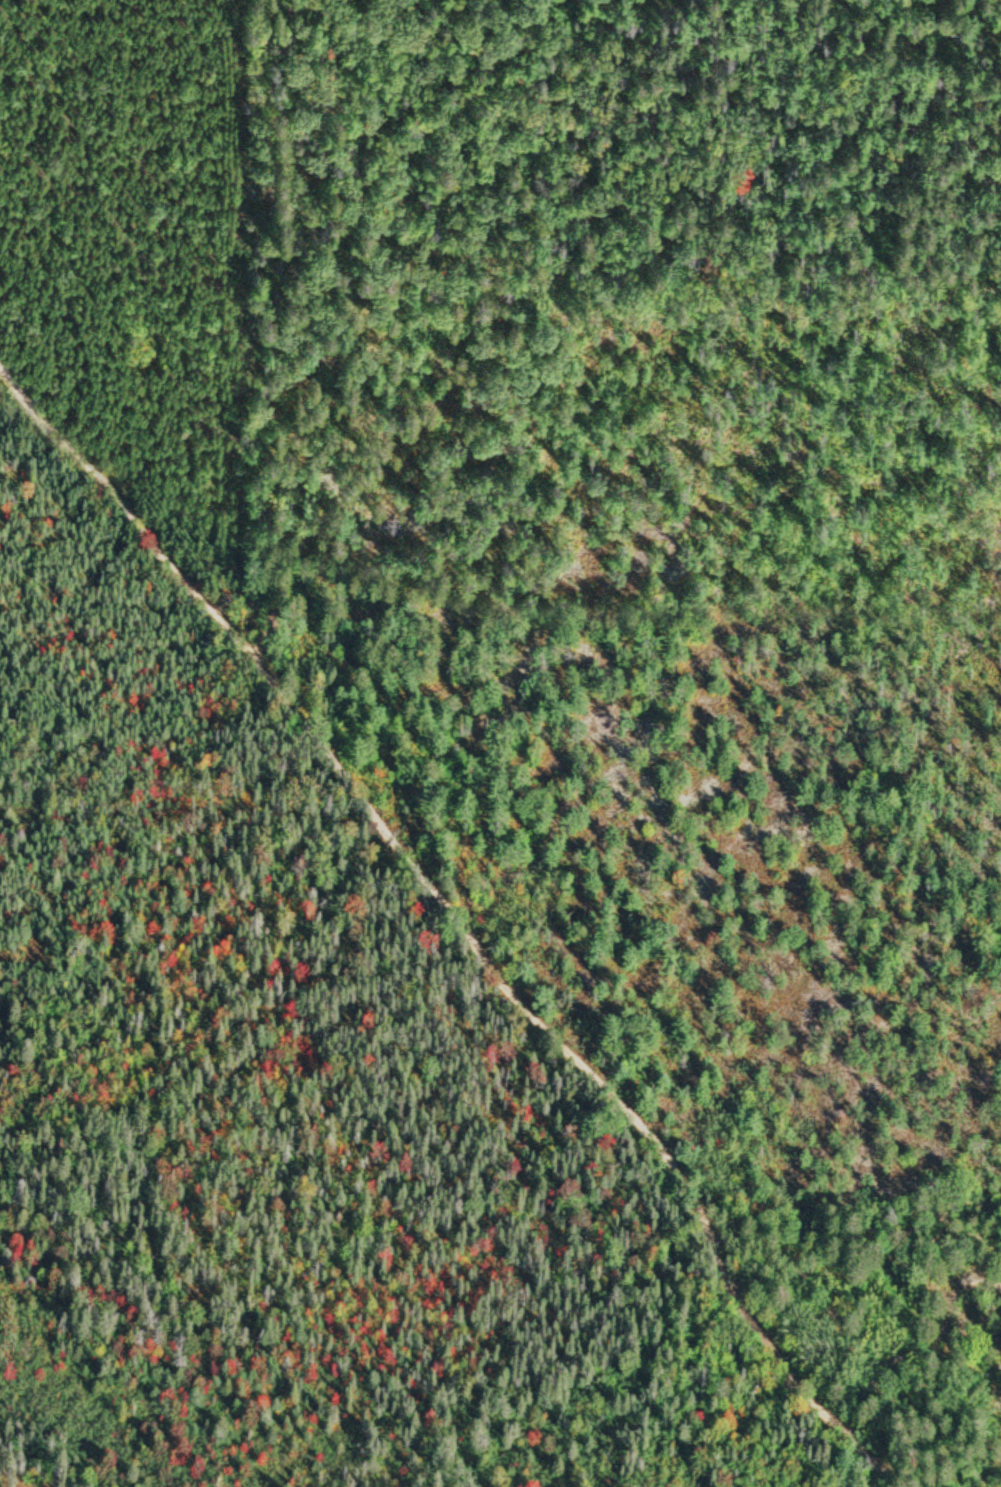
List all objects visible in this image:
road: (456, 925)

